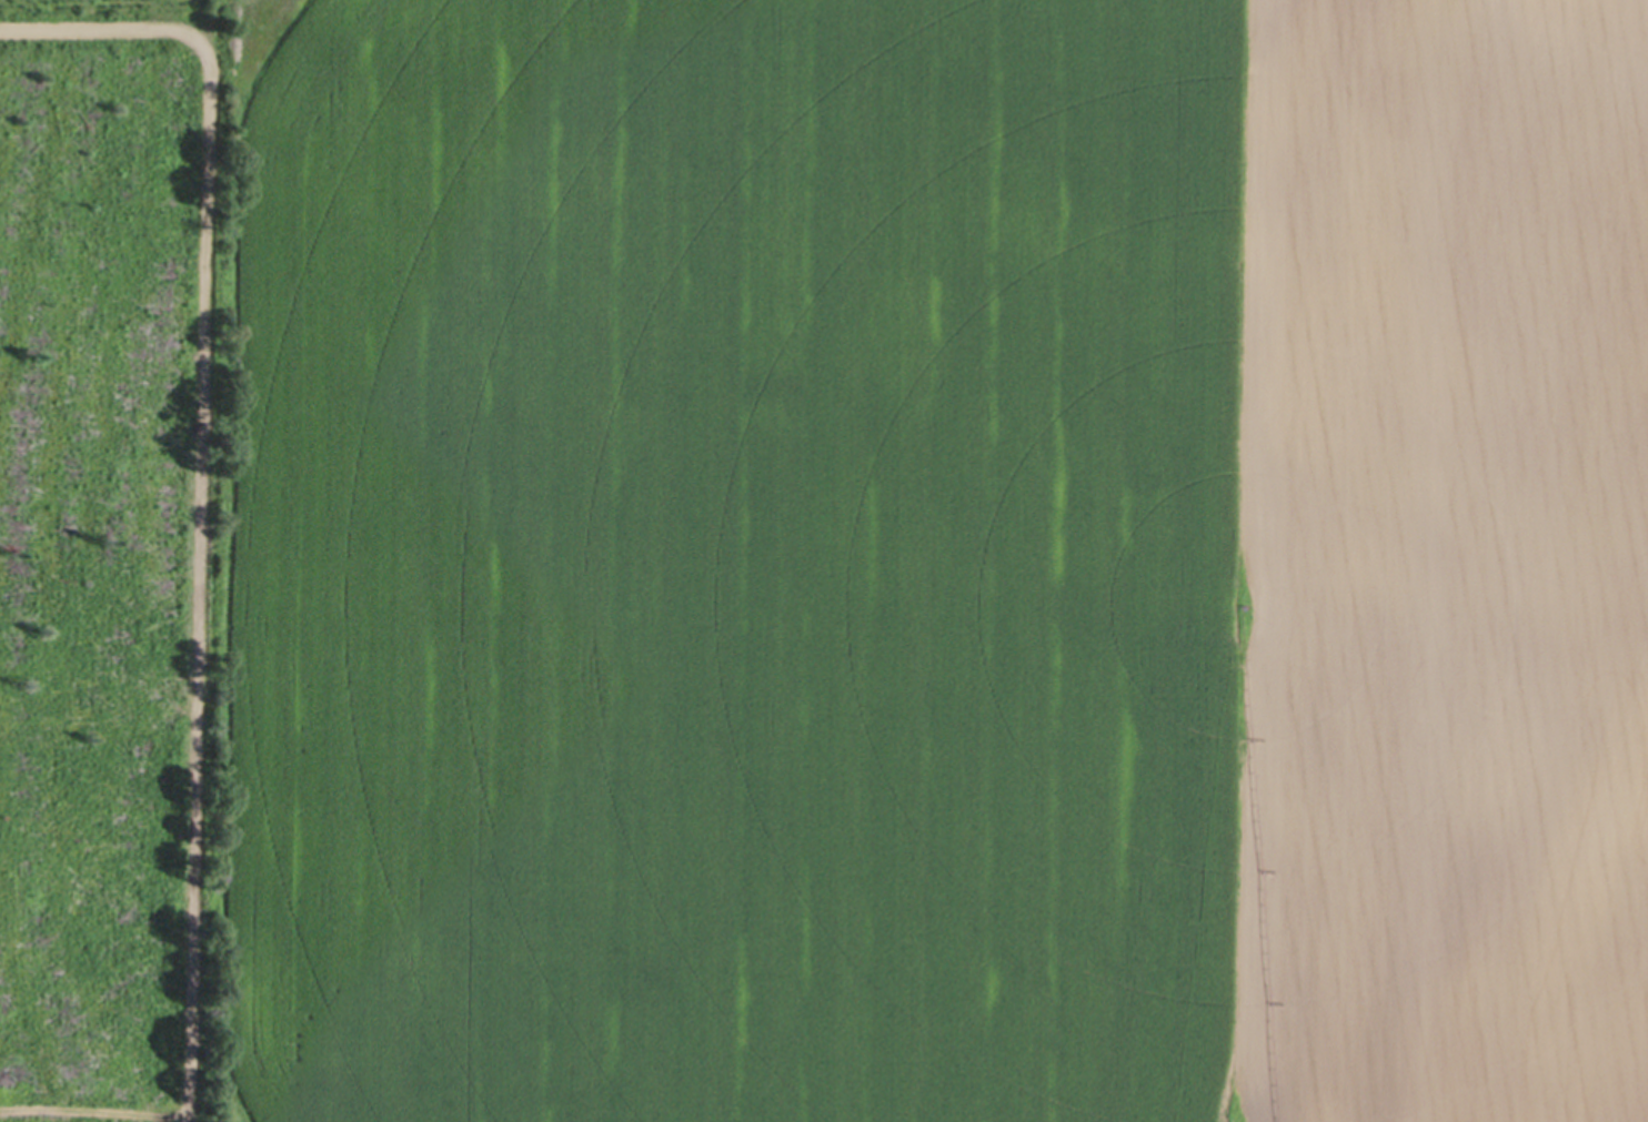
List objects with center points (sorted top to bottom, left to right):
road: (195, 479)
crop: (921, 562)

